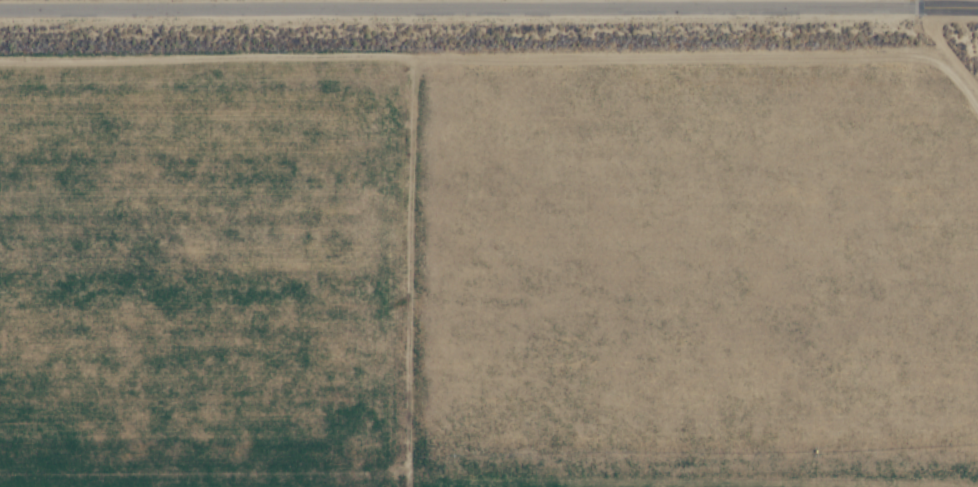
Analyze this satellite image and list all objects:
road: (489, 9)

